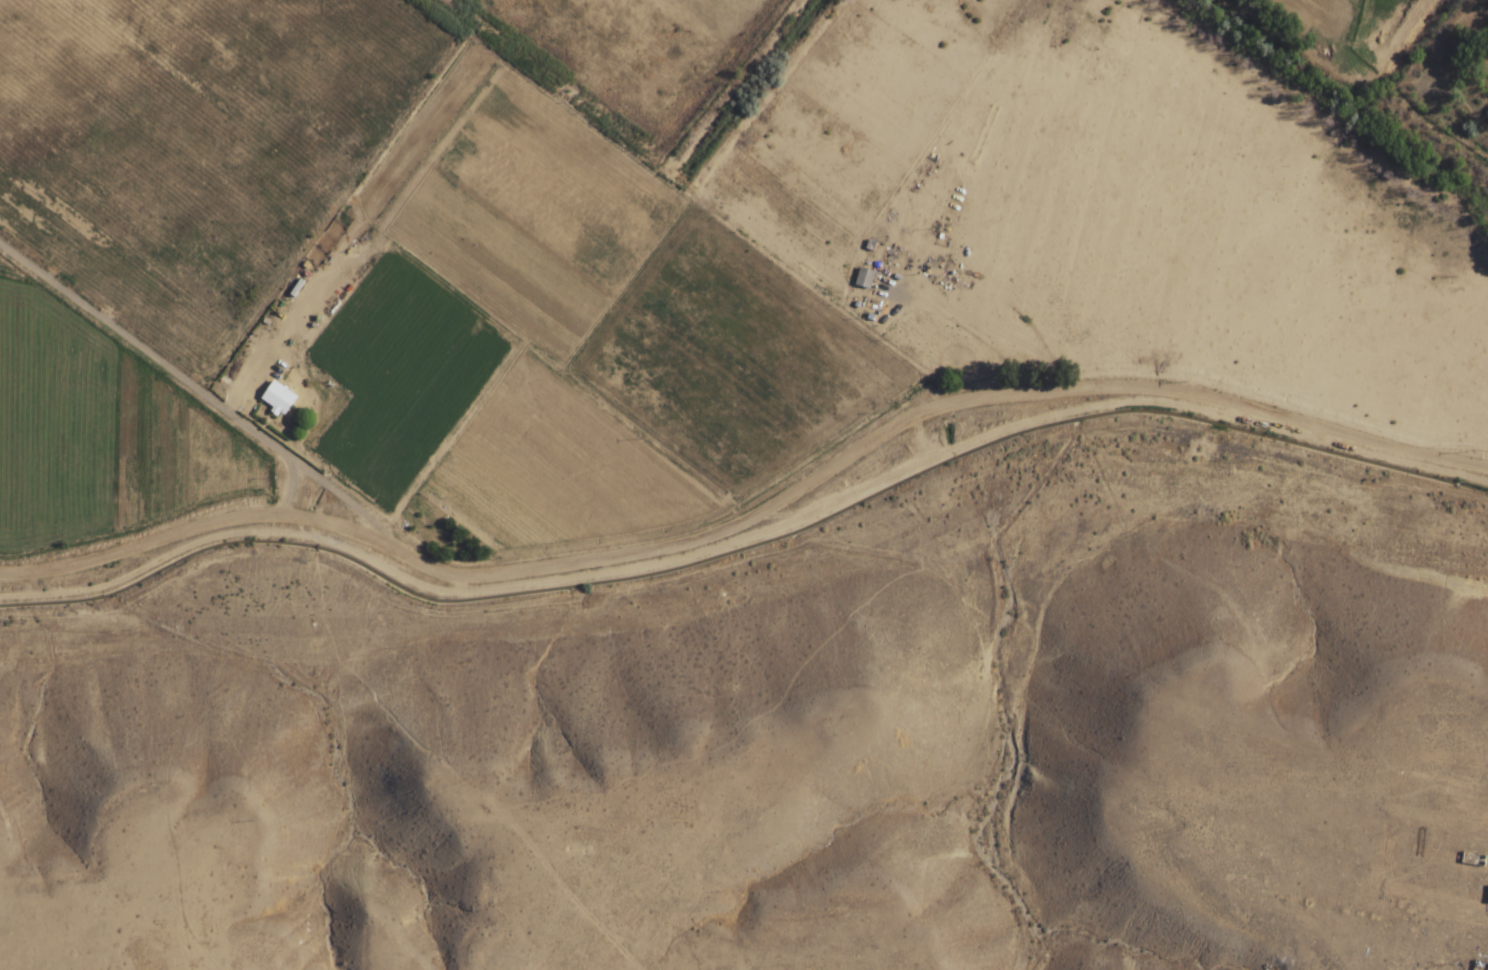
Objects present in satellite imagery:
road: (728, 218)
building: (866, 278)
road: (168, 366)
building: (279, 397)
road: (349, 501)
road: (751, 517)
building: (1470, 858)
building: (1487, 901)
building: (1480, 965)

